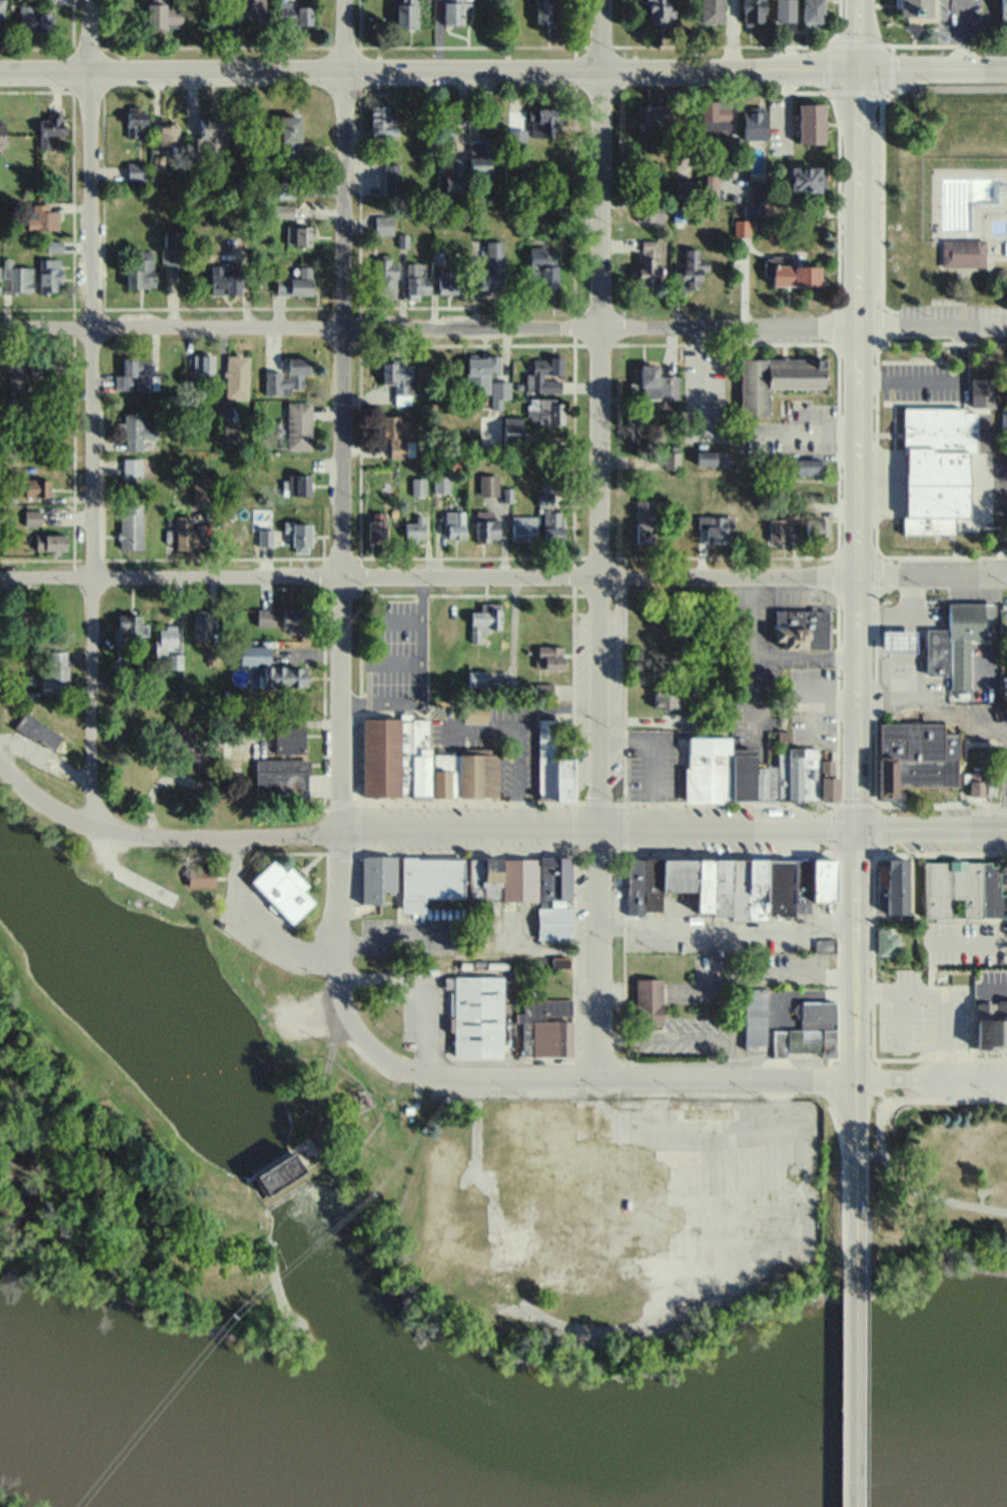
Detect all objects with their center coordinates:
building: (914, 7)
building: (1003, 9)
building: (245, 10)
building: (753, 10)
building: (662, 11)
building: (786, 11)
building: (452, 12)
building: (713, 12)
building: (813, 12)
building: (405, 13)
building: (543, 13)
building: (162, 15)
building: (302, 15)
building: (32, 18)
parking lot: (957, 20)
road: (958, 32)
road: (857, 33)
road: (937, 43)
road: (932, 65)
traffic signals: (858, 66)
road: (429, 67)
street lamp: (63, 88)
street lamp: (369, 89)
street lamp: (876, 106)
road: (788, 109)
building: (715, 116)
building: (446, 117)
building: (378, 119)
building: (135, 120)
building: (654, 120)
building: (542, 122)
building: (755, 124)
building: (813, 124)
building: (48, 127)
building: (0, 130)
building: (167, 134)
building: (288, 136)
building: (514, 137)
building: (206, 138)
building: (480, 154)
building: (135, 170)
building: (456, 174)
building: (390, 177)
building: (809, 181)
building: (709, 186)
building: (278, 188)
building: (683, 190)
building: (760, 193)
park: (932, 195)
street lamp: (73, 200)
building: (278, 209)
building: (753, 210)
building: (40, 216)
building: (680, 216)
building: (648, 217)
building: (383, 223)
building: (742, 229)
building: (297, 234)
building: (171, 246)
building: (963, 250)
building: (205, 251)
building: (650, 265)
building: (492, 266)
building: (543, 266)
building: (140, 268)
building: (692, 270)
building: (48, 274)
building: (16, 275)
building: (384, 276)
building: (797, 276)
building: (223, 279)
building: (416, 279)
building: (446, 280)
building: (294, 282)
parking lot: (954, 315)
road: (931, 325)
road: (428, 328)
street lamp: (74, 350)
building: (201, 363)
building: (43, 369)
building: (135, 373)
building: (543, 374)
building: (286, 375)
building: (235, 376)
building: (485, 377)
building: (399, 379)
building: (773, 379)
parking lot: (906, 379)
road: (936, 382)
building: (652, 387)
building: (981, 391)
building: (547, 409)
flagpole: (893, 411)
road: (90, 414)
road: (598, 414)
road: (342, 418)
building: (298, 424)
building: (512, 429)
building: (229, 430)
building: (135, 431)
building: (397, 435)
road: (730, 435)
road: (856, 447)
road: (874, 449)
building: (707, 459)
building: (774, 459)
building: (671, 462)
building: (130, 466)
building: (937, 466)
building: (808, 469)
building: (487, 483)
building: (441, 484)
building: (34, 486)
building: (296, 486)
building: (417, 487)
building: (200, 490)
building: (793, 510)
building: (30, 513)
building: (229, 514)
building: (644, 520)
building: (455, 524)
building: (552, 525)
building: (129, 526)
building: (523, 526)
building: (414, 527)
building: (375, 528)
building: (486, 528)
building: (820, 531)
building: (188, 532)
building: (716, 532)
building: (778, 532)
building: (156, 533)
building: (298, 535)
building: (264, 538)
building: (48, 541)
road: (931, 573)
road: (428, 576)
street lamp: (367, 588)
road: (394, 615)
building: (448, 617)
building: (279, 618)
building: (482, 619)
building: (200, 623)
building: (127, 624)
building: (801, 630)
road: (419, 635)
road: (513, 635)
building: (965, 639)
building: (899, 643)
gas station: (899, 643)
building: (167, 646)
parking lot: (393, 650)
building: (937, 650)
building: (252, 653)
road: (805, 656)
building: (549, 657)
road: (755, 659)
road: (392, 663)
road: (918, 669)
building: (54, 672)
building: (283, 675)
building: (478, 679)
building: (808, 682)
building: (511, 689)
building: (544, 691)
road: (391, 700)
building: (667, 700)
road: (351, 701)
road: (556, 705)
road: (805, 705)
parking lot: (812, 708)
building: (475, 715)
parking lot: (978, 718)
road: (639, 721)
building: (695, 721)
road: (270, 723)
road: (815, 725)
building: (36, 731)
building: (228, 731)
road: (1005, 732)
road: (478, 736)
building: (783, 737)
building: (287, 738)
building: (181, 740)
building: (915, 756)
building: (395, 757)
building: (544, 758)
road: (652, 760)
road: (519, 761)
road: (46, 766)
parking lot: (652, 766)
building: (708, 770)
building: (448, 771)
building: (804, 774)
building: (744, 775)
building: (279, 776)
building: (479, 776)
building: (563, 778)
building: (780, 778)
building: (828, 781)
building: (764, 784)
building: (978, 784)
building: (441, 785)
road: (890, 803)
road: (519, 814)
parking lot: (974, 815)
traffic signals: (855, 829)
road: (931, 829)
road: (415, 832)
flagpole: (998, 857)
building: (679, 873)
building: (373, 876)
building: (824, 877)
parking lot: (1003, 877)
building: (201, 879)
building: (484, 879)
building: (520, 881)
building: (555, 881)
building: (430, 884)
building: (643, 884)
building: (705, 884)
building: (722, 884)
building: (802, 884)
building: (780, 886)
building: (898, 887)
building: (748, 888)
building: (283, 890)
building: (963, 892)
building: (559, 905)
road: (251, 924)
road: (816, 924)
building: (557, 925)
road: (614, 926)
road: (705, 928)
road: (337, 937)
road: (467, 941)
building: (887, 944)
parking lot: (964, 944)
road: (966, 944)
building: (824, 946)
road: (597, 955)
road: (855, 955)
building: (555, 964)
road: (931, 970)
road: (844, 973)
road: (767, 974)
road: (996, 989)
road: (877, 996)
road: (774, 998)
building: (647, 1003)
parking lot: (919, 1015)
building: (475, 1016)
road: (945, 1016)
building: (755, 1019)
building: (992, 1025)
road: (423, 1029)
building: (544, 1029)
building: (808, 1032)
road: (682, 1037)
road: (899, 1040)
parking lot: (992, 1073)
road: (931, 1080)
road: (598, 1081)
power substation: (358, 1096)
road: (882, 1101)
road: (855, 1149)
building: (290, 1163)
dam: (283, 1175)
park: (930, 1177)
building: (558, 1203)
road: (929, 1205)
building: (475, 1256)
road: (857, 1362)
river: (497, 1489)

